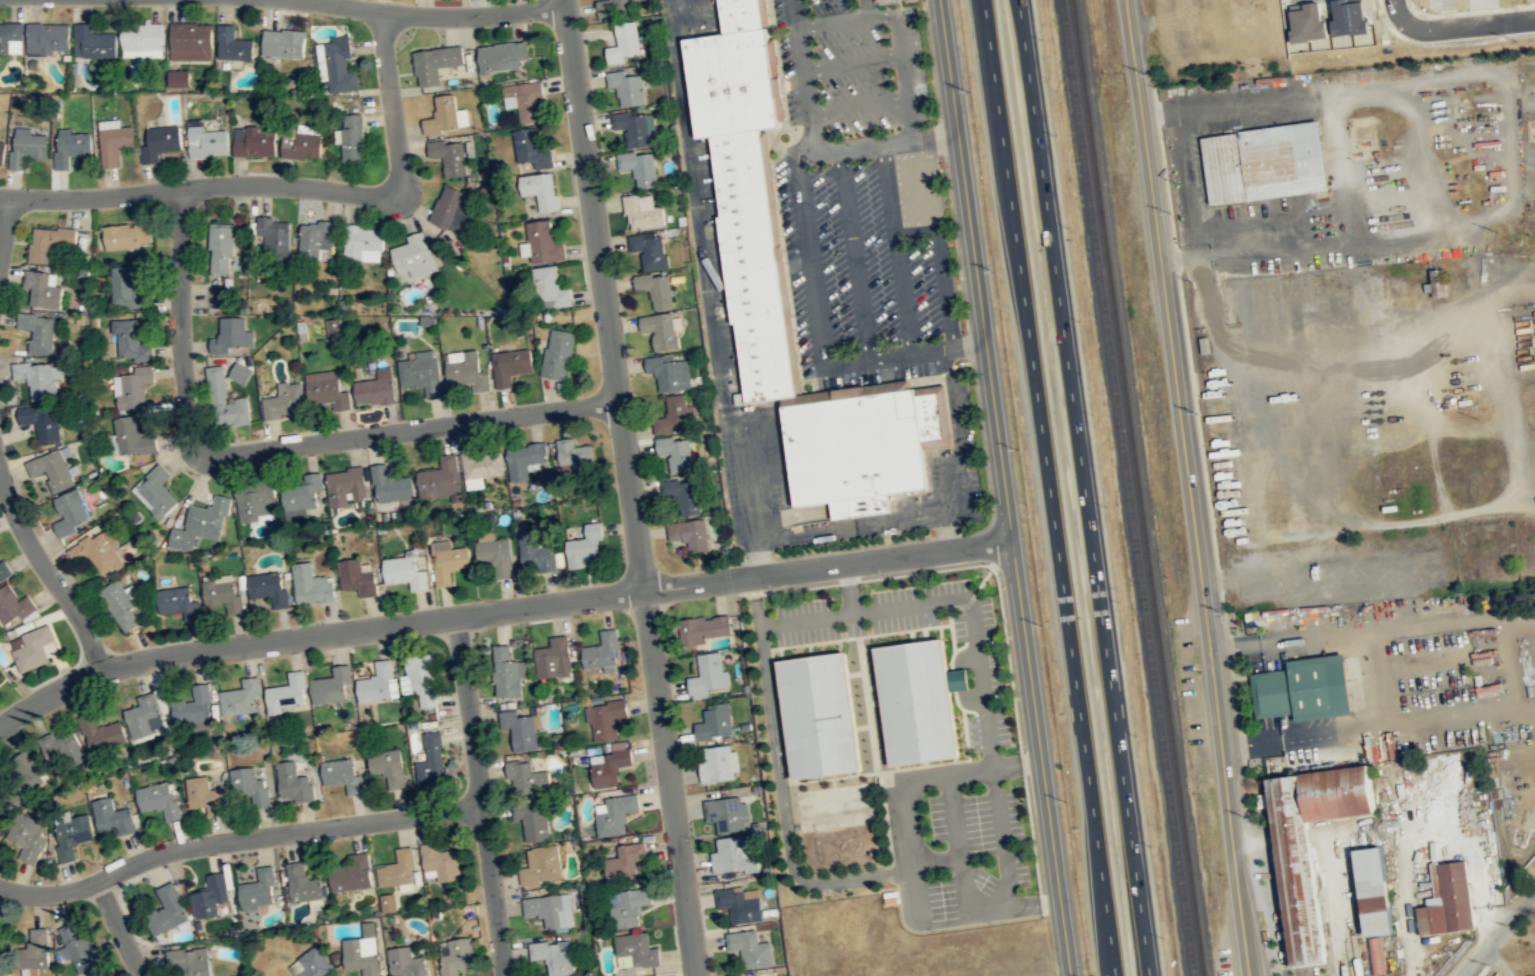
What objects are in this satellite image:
building: (880, 0)
building: (614, 6)
road: (867, 8)
building: (743, 14)
road: (434, 15)
road: (671, 18)
road: (1456, 26)
building: (47, 38)
building: (11, 39)
building: (142, 40)
building: (191, 41)
building: (283, 42)
building: (92, 43)
building: (233, 44)
building: (624, 44)
road: (803, 55)
road: (902, 56)
building: (502, 57)
road: (853, 62)
building: (336, 64)
building: (435, 64)
building: (180, 78)
building: (734, 81)
road: (680, 87)
building: (626, 88)
building: (530, 103)
building: (443, 116)
road: (910, 119)
building: (634, 129)
building: (353, 137)
building: (114, 141)
building: (253, 141)
building: (160, 142)
building: (208, 142)
building: (301, 144)
road: (868, 144)
building: (71, 146)
building: (27, 147)
road: (805, 147)
building: (2, 148)
building: (532, 149)
building: (449, 155)
building: (1264, 162)
building: (639, 168)
road: (291, 186)
building: (541, 190)
building: (451, 208)
building: (643, 212)
road: (5, 220)
road: (916, 230)
building: (274, 234)
building: (127, 235)
building: (315, 240)
building: (363, 242)
building: (49, 243)
building: (542, 243)
building: (221, 247)
road: (897, 247)
building: (649, 249)
building: (412, 256)
building: (754, 265)
road: (975, 271)
road: (706, 274)
road: (813, 281)
building: (1439, 281)
road: (945, 287)
building: (126, 288)
building: (42, 289)
building: (549, 289)
building: (656, 289)
road: (860, 293)
road: (603, 295)
building: (334, 326)
building: (660, 330)
building: (38, 332)
building: (231, 335)
building: (131, 341)
road: (969, 345)
building: (558, 355)
building: (510, 366)
building: (466, 370)
building: (241, 372)
building: (421, 373)
building: (669, 373)
building: (39, 379)
building: (133, 388)
building: (326, 389)
building: (375, 389)
building: (225, 401)
building: (284, 402)
road: (953, 406)
building: (673, 416)
building: (932, 416)
building: (41, 420)
building: (131, 437)
road: (272, 447)
building: (858, 452)
building: (574, 454)
building: (677, 454)
building: (525, 459)
building: (482, 467)
building: (51, 470)
road: (749, 470)
building: (440, 479)
building: (390, 485)
road: (954, 486)
building: (345, 487)
road: (1084, 487)
road: (1188, 487)
road: (1048, 488)
railway: (1128, 488)
railway: (1137, 488)
building: (156, 492)
building: (684, 495)
building: (301, 496)
building: (254, 500)
building: (71, 513)
building: (202, 524)
road: (857, 524)
road: (946, 531)
building: (689, 534)
building: (585, 547)
building: (99, 552)
building: (536, 552)
building: (495, 555)
road: (760, 557)
building: (448, 562)
road: (826, 566)
building: (3, 569)
road: (48, 572)
building: (405, 572)
building: (357, 577)
building: (311, 586)
building: (268, 589)
building: (223, 594)
building: (176, 602)
building: (13, 606)
building: (120, 607)
building: (702, 629)
road: (313, 633)
building: (31, 650)
building: (602, 654)
building: (553, 659)
building: (507, 673)
building: (707, 676)
building: (420, 680)
building: (377, 683)
building: (333, 685)
building: (1303, 688)
building: (285, 692)
building: (240, 698)
building: (915, 701)
building: (194, 707)
building: (821, 713)
building: (144, 716)
building: (605, 720)
building: (714, 723)
building: (519, 730)
building: (101, 733)
building: (61, 746)
road: (1040, 759)
building: (431, 760)
building: (716, 764)
building: (388, 766)
building: (608, 768)
building: (23, 772)
building: (342, 774)
building: (525, 777)
road: (928, 778)
road: (779, 781)
building: (293, 783)
road: (668, 783)
building: (249, 786)
road: (478, 795)
building: (203, 796)
building: (159, 800)
building: (726, 814)
building: (614, 815)
building: (112, 817)
building: (532, 820)
building: (72, 835)
building: (27, 836)
road: (236, 838)
building: (1308, 848)
building: (732, 855)
building: (441, 862)
building: (623, 863)
building: (541, 866)
building: (397, 870)
building: (352, 874)
building: (303, 884)
building: (258, 890)
building: (1371, 893)
building: (210, 896)
building: (1447, 902)
building: (389, 903)
building: (739, 904)
building: (627, 907)
building: (550, 910)
building: (167, 911)
road: (964, 917)
road: (116, 928)
road: (1496, 933)
building: (2, 947)
building: (77, 947)
building: (749, 949)
building: (35, 951)
building: (362, 952)
building: (635, 952)
building: (1375, 955)
building: (455, 956)
building: (554, 957)
building: (189, 961)
road: (1497, 961)
building: (405, 963)
building: (313, 964)

